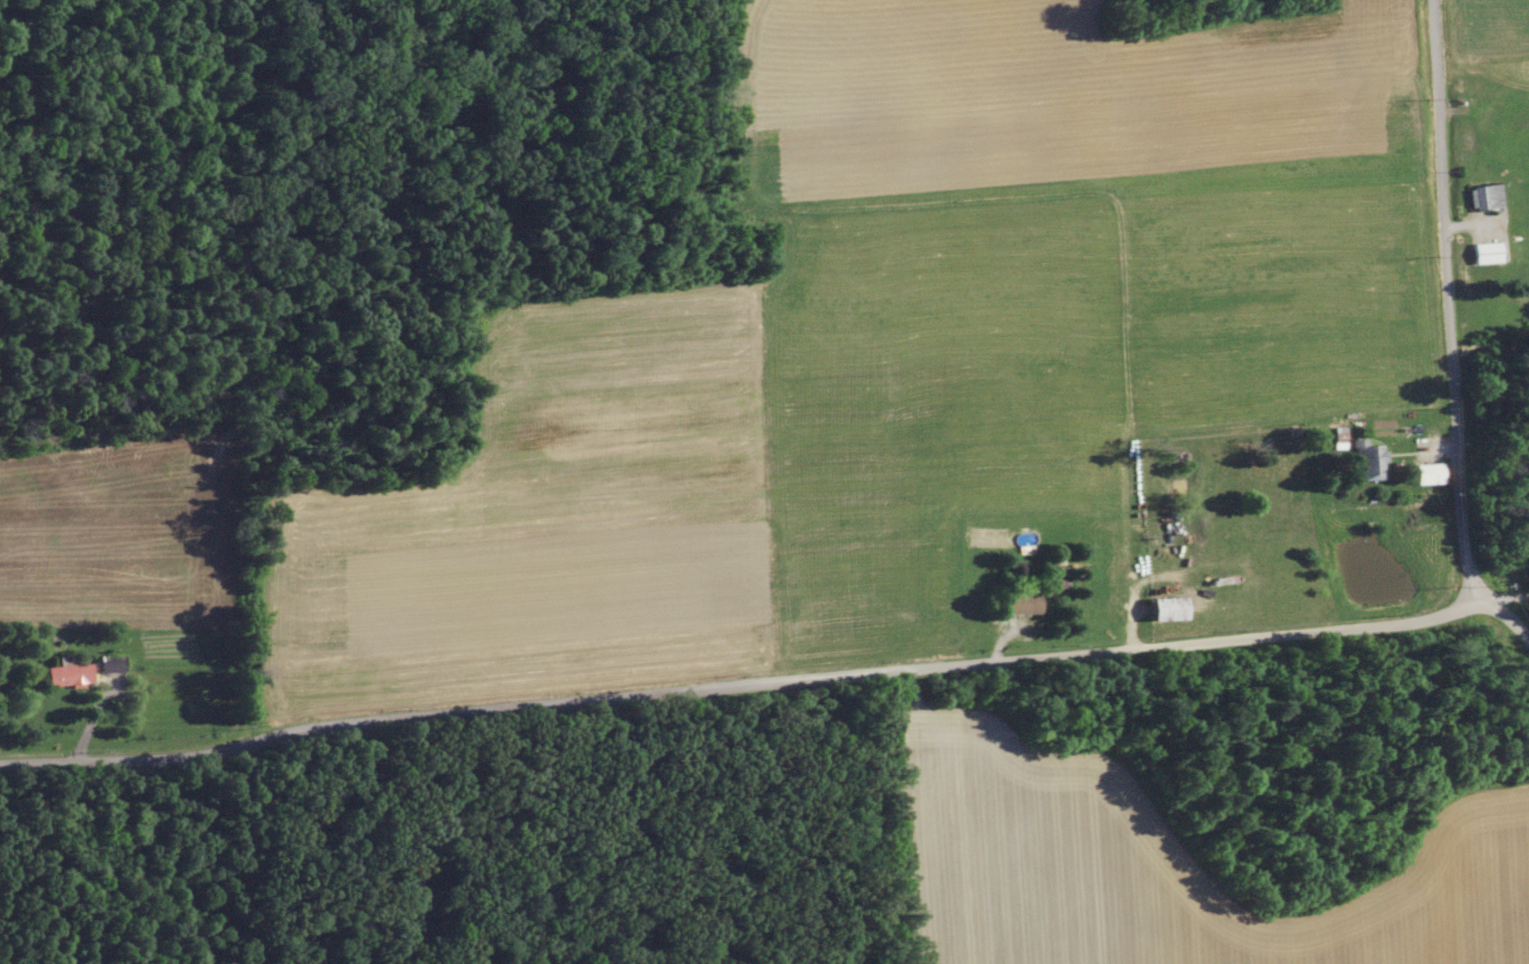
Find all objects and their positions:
building: (1480, 195)
building: (1482, 251)
road: (1451, 304)
building: (1425, 472)
road: (1508, 595)
building: (1019, 602)
building: (1161, 607)
building: (107, 662)
building: (66, 674)
road: (774, 680)

